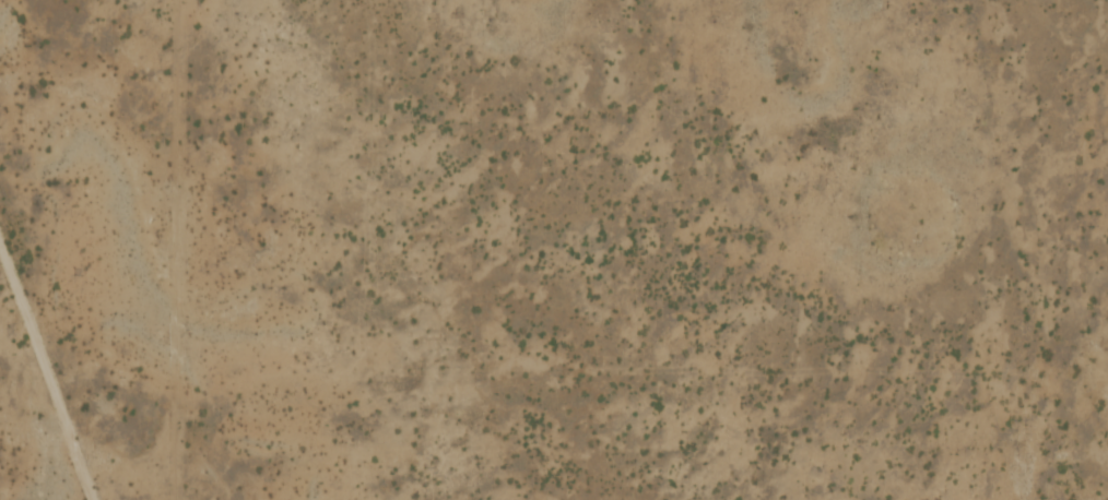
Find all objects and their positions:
road: (43, 370)

